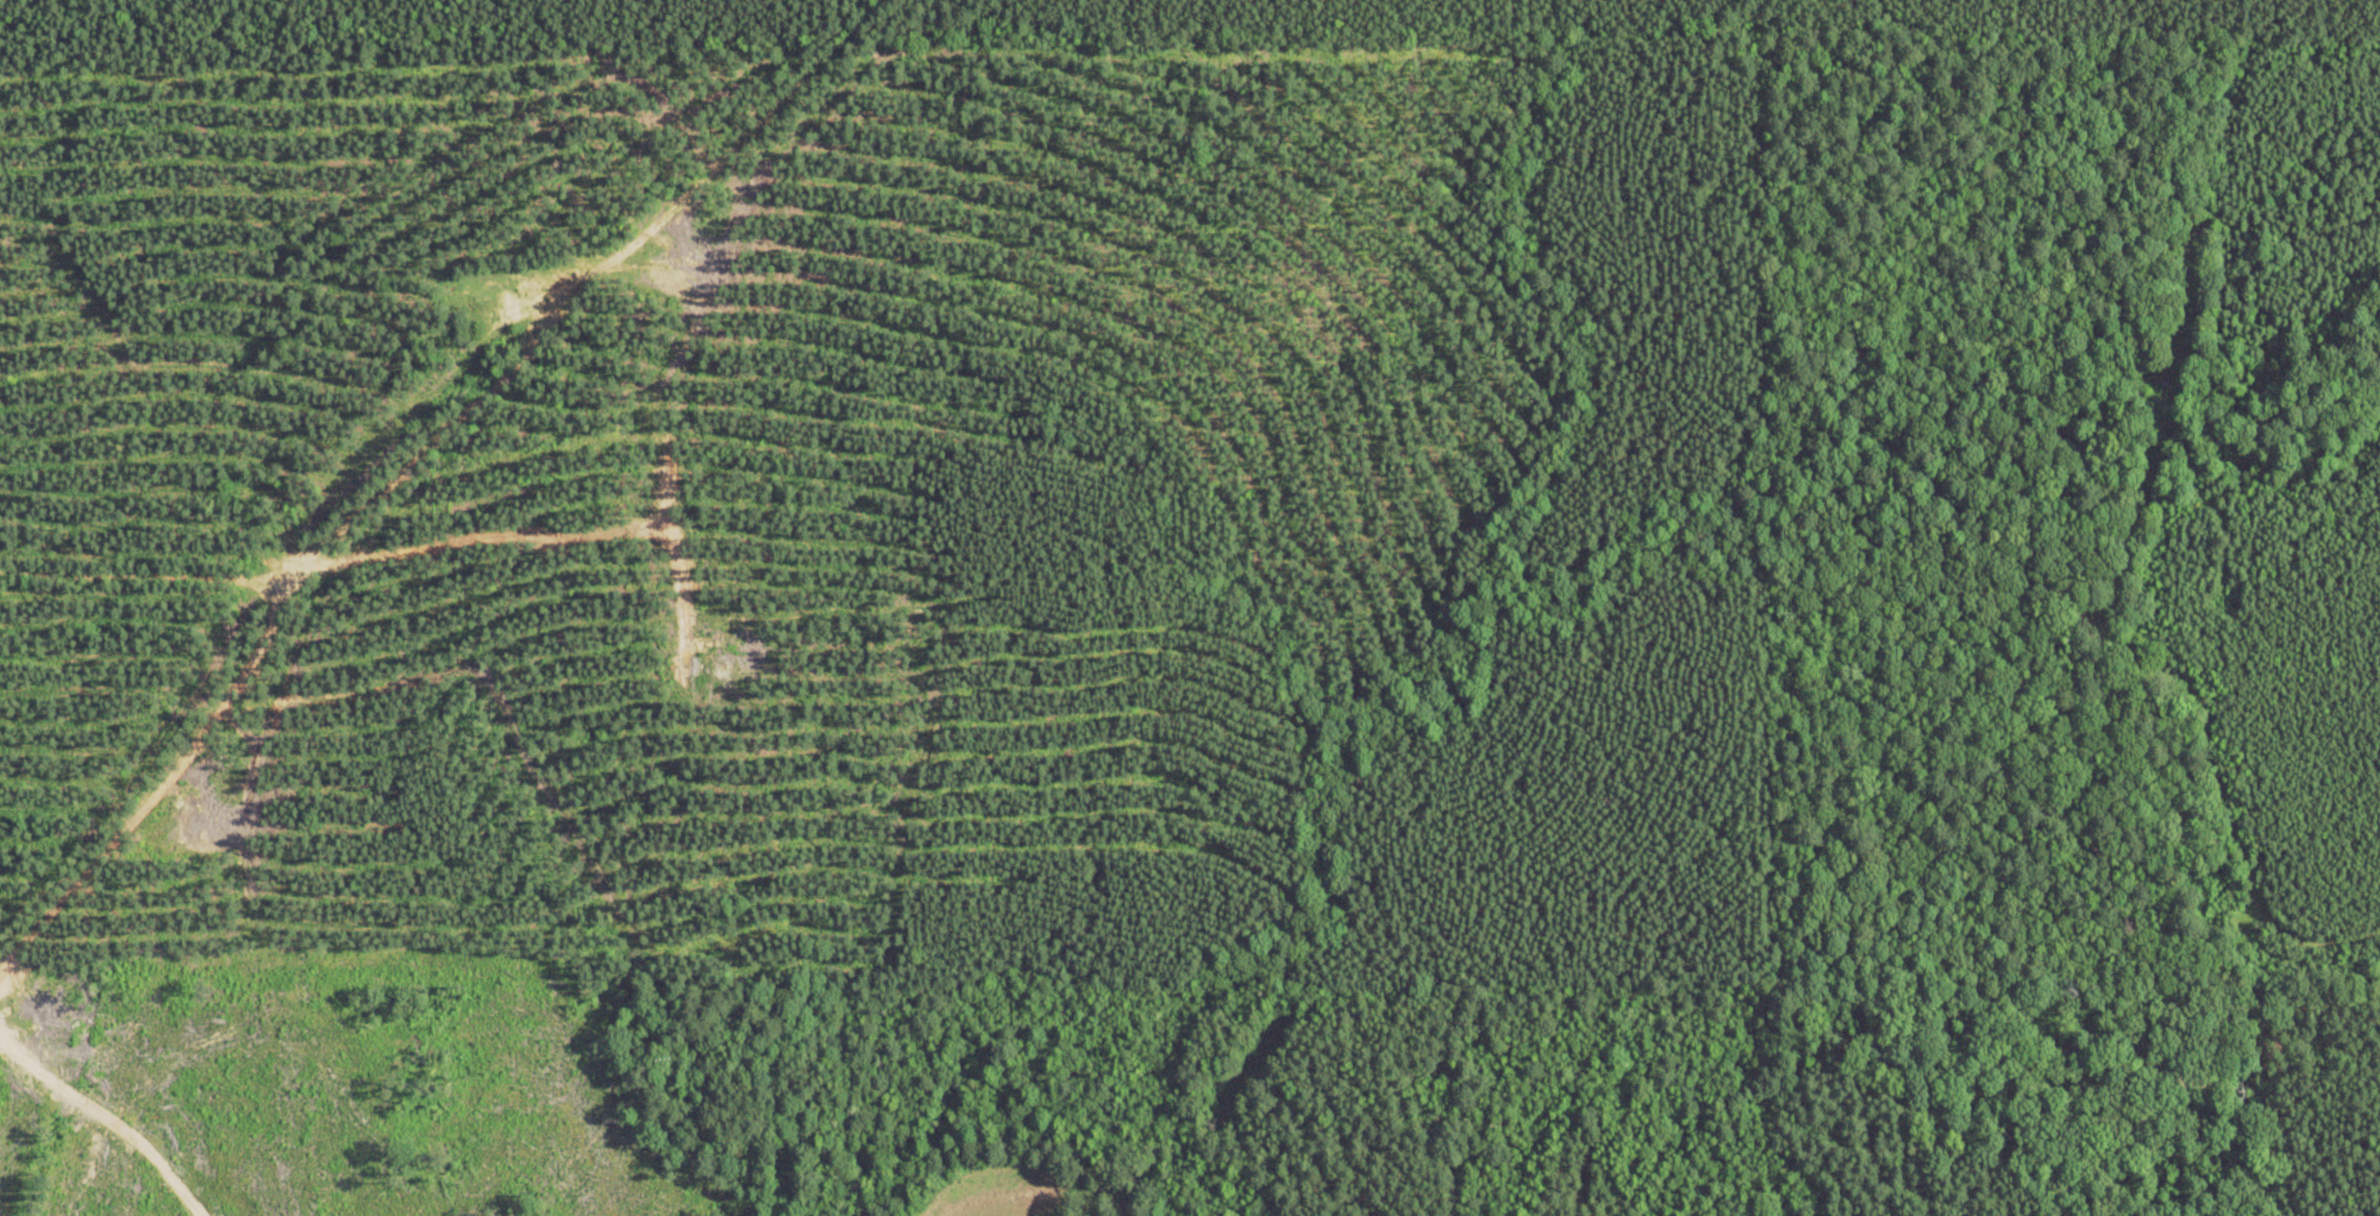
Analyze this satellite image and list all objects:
road: (580, 293)
road: (154, 785)

